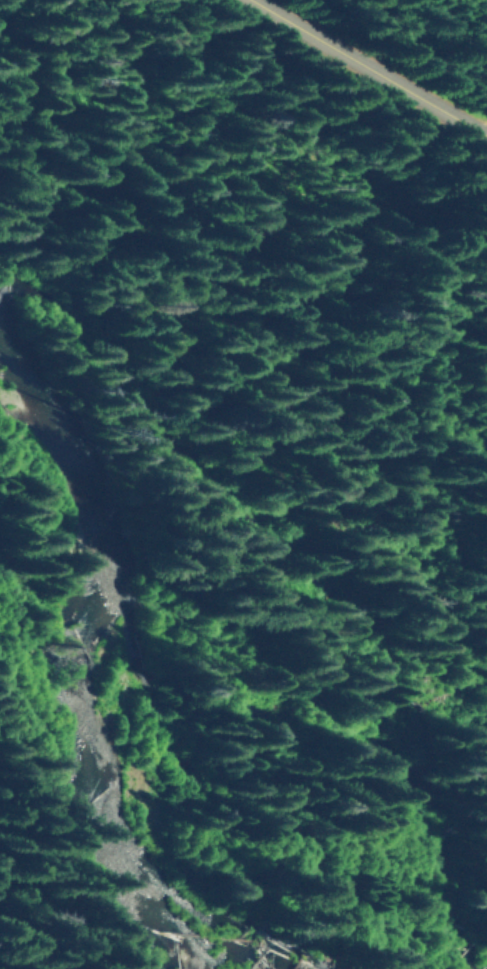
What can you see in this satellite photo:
road: (374, 65)
river: (152, 674)

